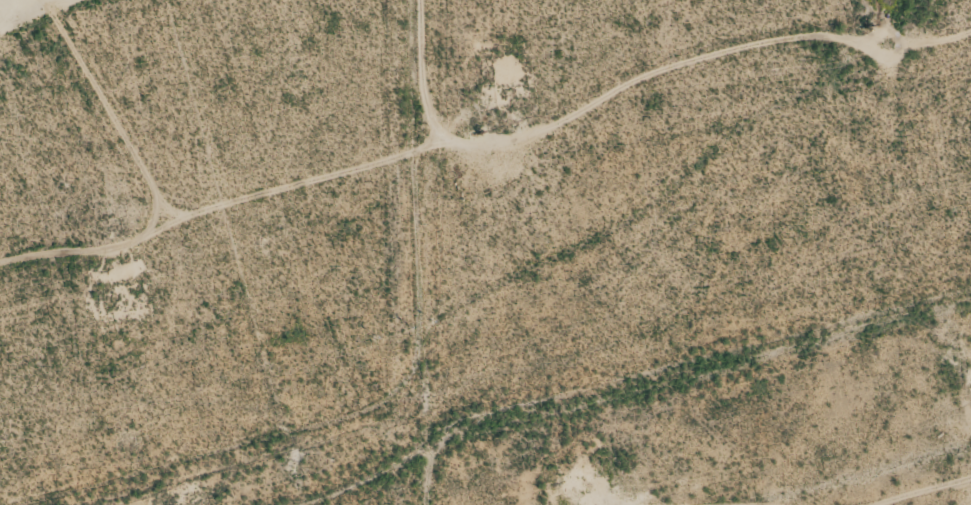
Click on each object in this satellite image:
road: (398, 252)

